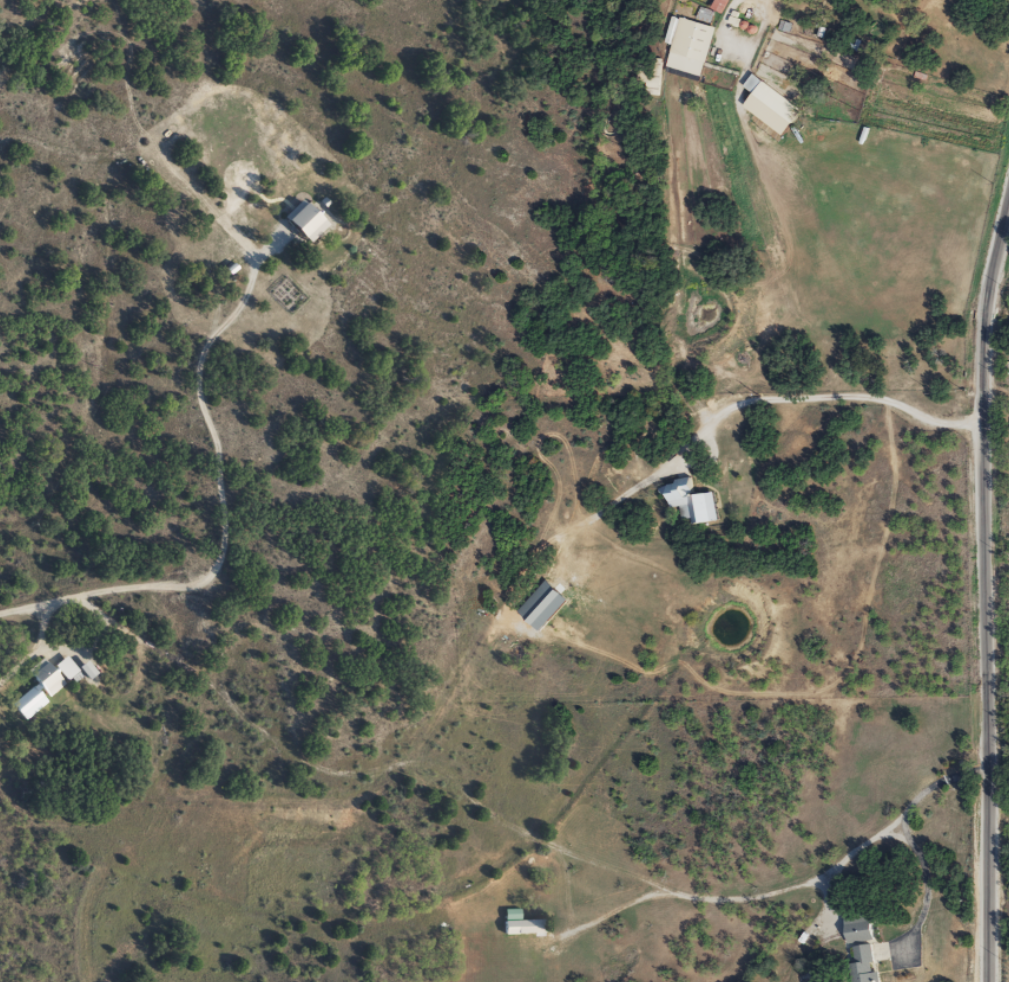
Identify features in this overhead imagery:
road: (120, 26)
building: (688, 46)
building: (775, 101)
building: (300, 221)
building: (690, 500)
road: (946, 539)
building: (544, 601)
building: (42, 677)
building: (857, 925)
building: (519, 928)
building: (864, 963)

